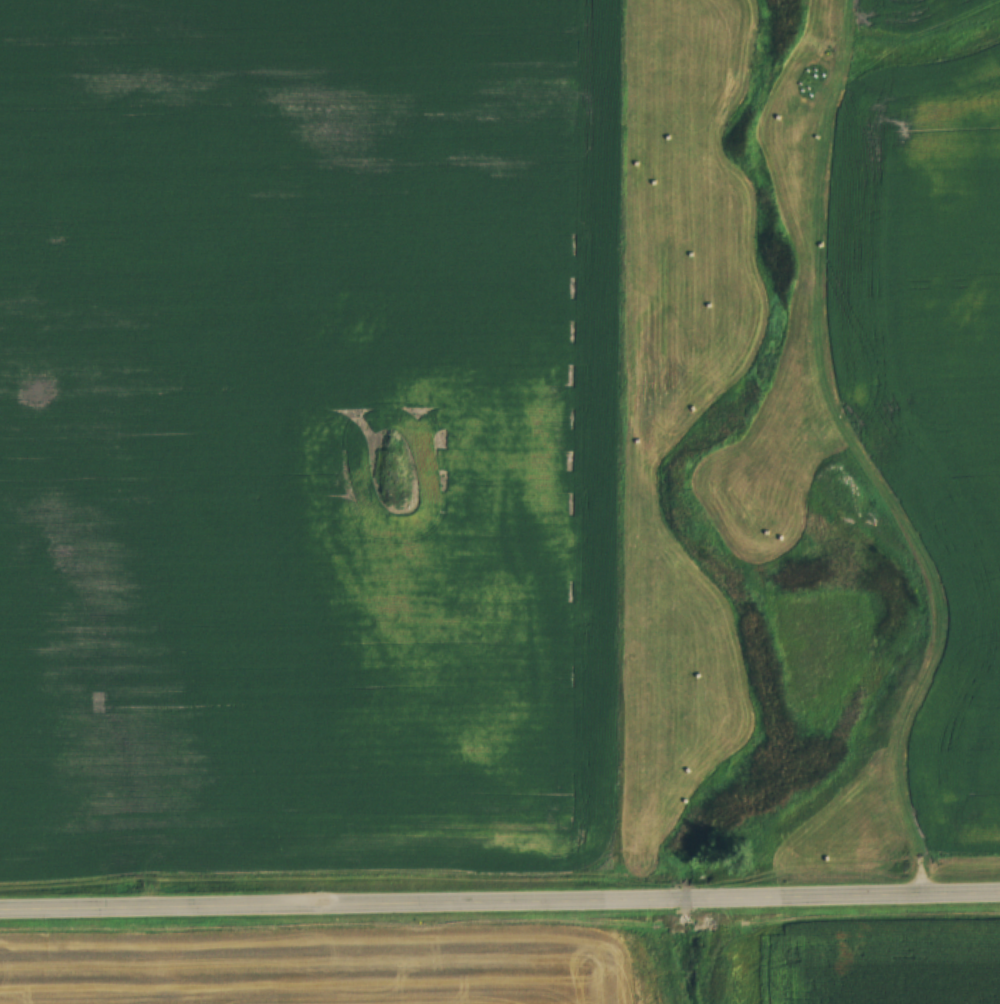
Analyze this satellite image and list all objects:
road: (500, 913)

